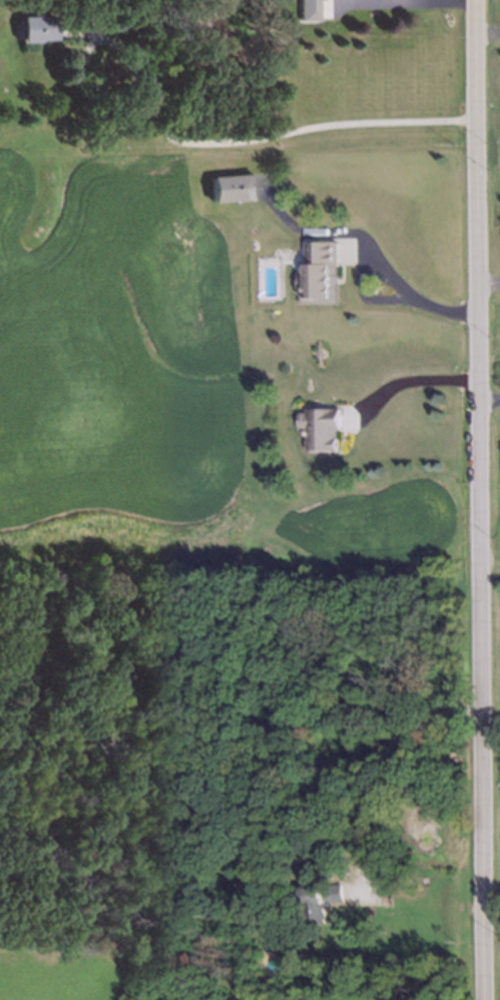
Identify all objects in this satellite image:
road: (384, 1)
building: (307, 9)
building: (31, 28)
road: (487, 31)
road: (254, 136)
building: (231, 188)
road: (381, 270)
building: (318, 273)
road: (488, 282)
road: (409, 379)
road: (488, 399)
building: (318, 430)
road: (477, 499)
road: (350, 761)
building: (318, 900)

